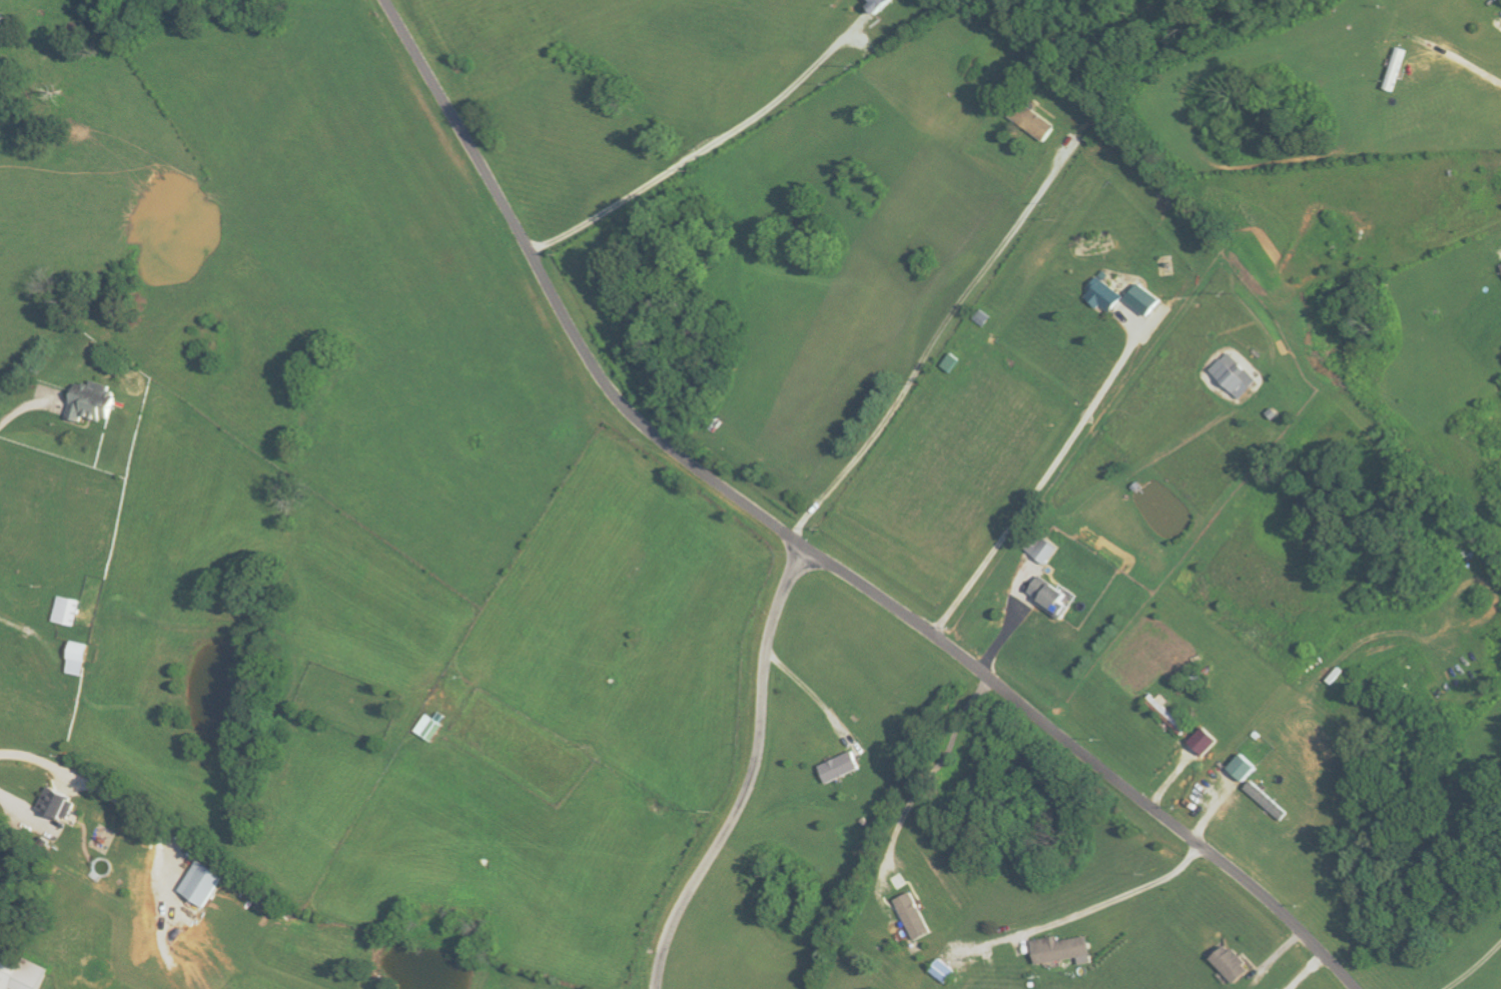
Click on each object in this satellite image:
building: (880, 4)
road: (1465, 60)
building: (1034, 122)
road: (699, 152)
building: (1105, 296)
building: (1143, 300)
road: (932, 343)
building: (953, 364)
building: (1235, 376)
building: (92, 402)
road: (22, 407)
road: (1044, 476)
road: (805, 548)
building: (1048, 551)
building: (1053, 596)
building: (67, 610)
road: (25, 628)
building: (79, 658)
road: (804, 689)
building: (1170, 712)
building: (430, 727)
building: (1209, 741)
building: (841, 767)
building: (1247, 767)
road: (931, 774)
road: (752, 776)
building: (1271, 801)
road: (21, 804)
building: (60, 805)
building: (202, 883)
road: (1119, 897)
building: (918, 916)
building: (1067, 950)
building: (1234, 963)
road: (1475, 967)
building: (947, 971)
building: (21, 975)

